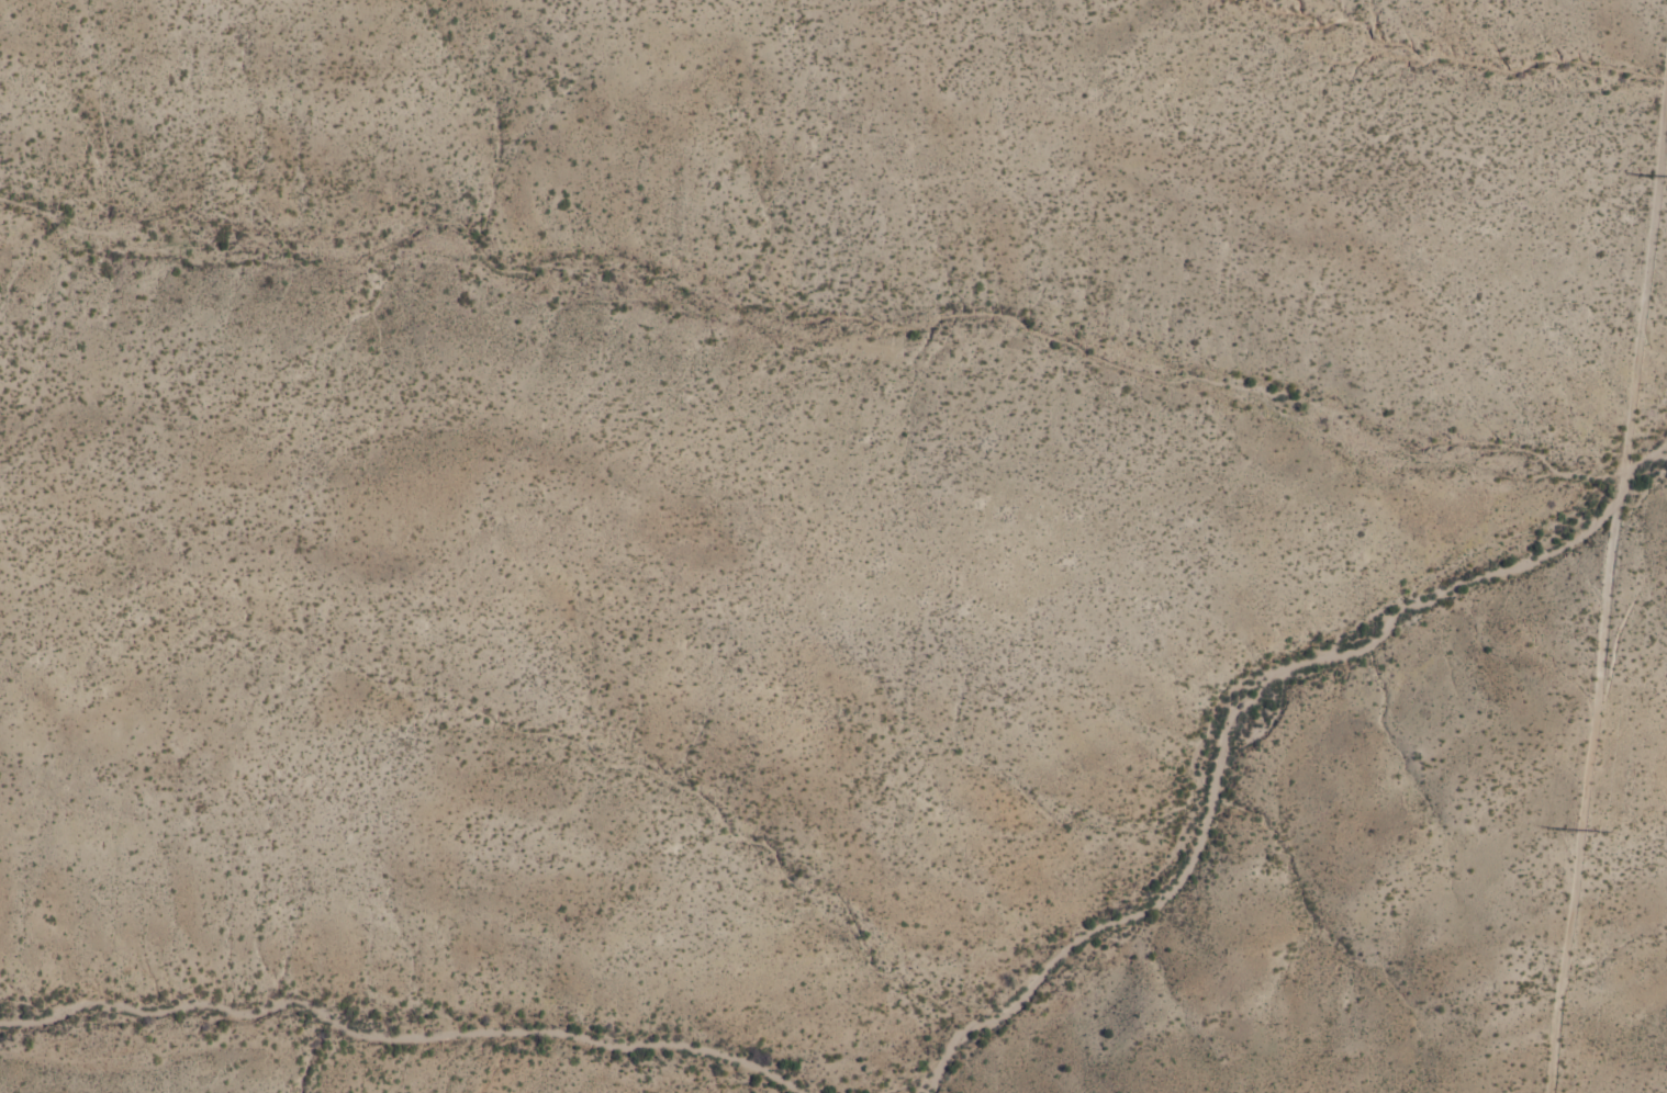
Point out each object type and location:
road: (1604, 572)
power tower: (1599, 829)

